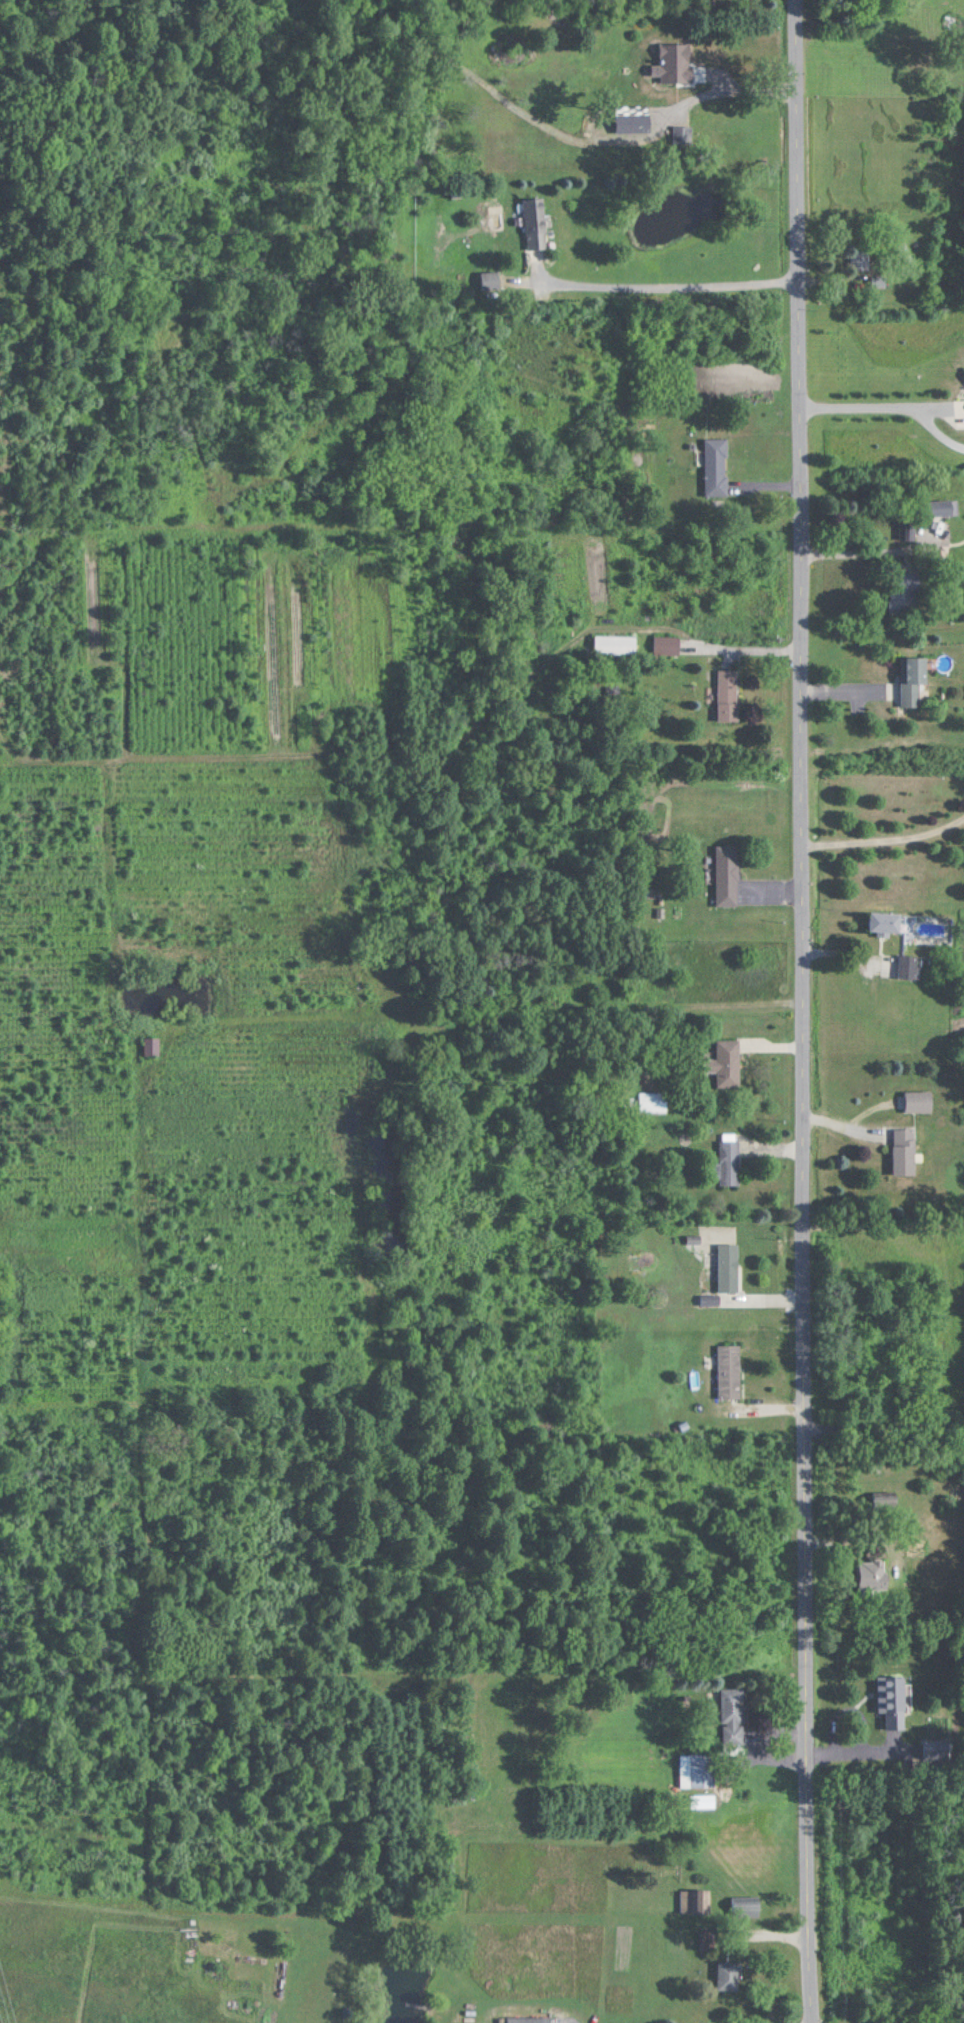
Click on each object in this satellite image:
building: (711, 65)
road: (735, 85)
building: (633, 122)
building: (682, 133)
building: (536, 223)
building: (858, 258)
building: (490, 280)
road: (667, 285)
road: (873, 405)
building: (716, 467)
building: (939, 509)
building: (907, 533)
road: (856, 550)
building: (904, 592)
building: (616, 645)
building: (667, 645)
building: (913, 680)
building: (729, 696)
road: (887, 838)
building: (728, 875)
building: (886, 920)
building: (909, 965)
road: (807, 1011)
building: (151, 1044)
building: (725, 1062)
building: (918, 1100)
building: (652, 1101)
building: (904, 1151)
building: (728, 1162)
building: (729, 1267)
building: (730, 1371)
road: (886, 1440)
building: (870, 1572)
building: (892, 1700)
road: (858, 1712)
building: (732, 1716)
road: (847, 1721)
road: (861, 1762)
building: (697, 1770)
building: (695, 1900)
building: (745, 1907)
building: (707, 1939)
building: (727, 1975)
building: (528, 2019)

